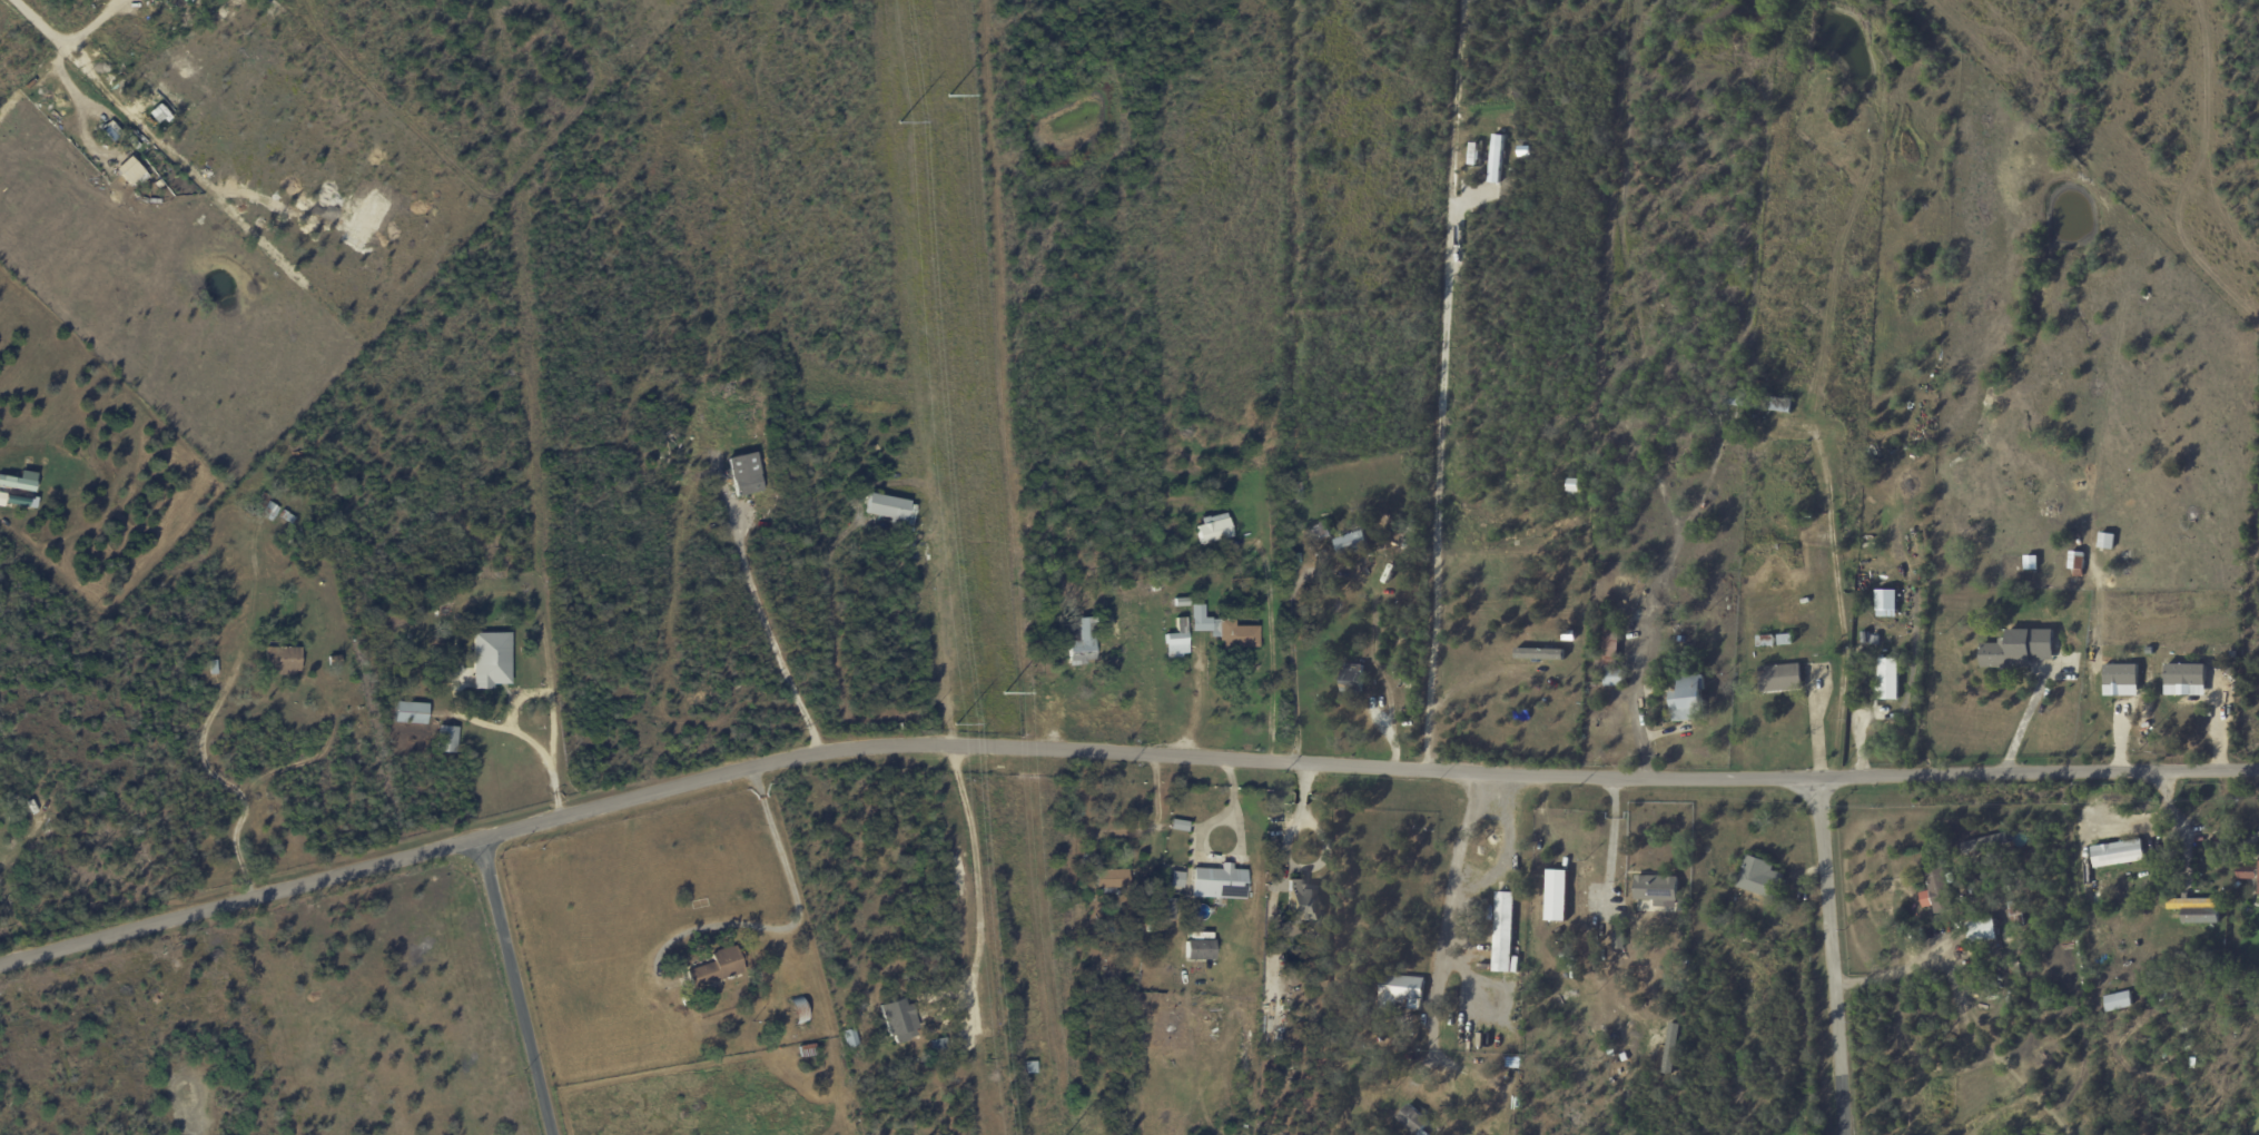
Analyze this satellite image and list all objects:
road: (39, 23)
building: (159, 113)
building: (1496, 158)
building: (130, 170)
building: (1266, 334)
building: (1759, 402)
building: (1313, 438)
building: (748, 475)
building: (19, 480)
building: (1575, 484)
road: (1439, 490)
building: (1294, 491)
building: (266, 500)
building: (889, 506)
building: (273, 511)
building: (289, 516)
building: (1212, 530)
building: (1319, 532)
building: (2107, 541)
building: (1350, 545)
building: (1774, 545)
building: (460, 554)
building: (1391, 555)
building: (443, 563)
building: (2076, 563)
building: (2107, 570)
building: (1040, 580)
building: (1153, 588)
building: (1180, 602)
road: (1839, 602)
building: (1887, 602)
building: (1242, 603)
building: (1223, 630)
road: (769, 633)
building: (1176, 636)
building: (1862, 638)
building: (1763, 641)
building: (1785, 641)
building: (1876, 641)
building: (1078, 642)
road: (1273, 650)
building: (1108, 653)
building: (1540, 653)
building: (2005, 654)
building: (1608, 657)
building: (337, 660)
building: (494, 660)
building: (285, 661)
building: (215, 667)
building: (1173, 667)
building: (1036, 669)
road: (1379, 670)
road: (1294, 673)
building: (1780, 679)
building: (2187, 679)
building: (1888, 680)
building: (2122, 680)
building: (1352, 682)
road: (551, 688)
building: (1686, 700)
road: (1192, 708)
building: (414, 712)
road: (1636, 712)
road: (2020, 723)
road: (1815, 724)
building: (451, 739)
road: (535, 746)
road: (1115, 752)
road: (225, 784)
road: (1615, 798)
building: (2095, 811)
building: (1176, 823)
road: (1154, 826)
road: (2182, 826)
building: (2080, 833)
building: (14, 839)
road: (1237, 852)
building: (2118, 852)
road: (1288, 859)
road: (1610, 866)
building: (2247, 871)
road: (977, 877)
building: (1759, 877)
building: (1173, 878)
building: (2020, 879)
building: (1113, 881)
building: (1217, 881)
building: (1656, 888)
building: (1936, 889)
building: (2258, 889)
building: (1558, 899)
building: (1302, 900)
building: (2141, 904)
building: (1162, 908)
building: (2197, 909)
building: (1717, 912)
building: (2015, 912)
building: (1713, 925)
road: (790, 926)
building: (1981, 930)
road: (1442, 931)
building: (1502, 931)
building: (1618, 939)
building: (1195, 948)
road: (1833, 957)
building: (2090, 960)
building: (714, 968)
building: (2016, 968)
road: (1896, 971)
road: (526, 987)
building: (1398, 989)
building: (739, 994)
building: (2173, 994)
building: (2230, 999)
building: (2118, 1000)
building: (800, 1013)
building: (901, 1024)
building: (1171, 1029)
building: (848, 1037)
building: (936, 1045)
building: (809, 1049)
building: (2192, 1060)
building: (1506, 1063)
building: (1030, 1067)
building: (1411, 1121)
building: (1438, 1134)

